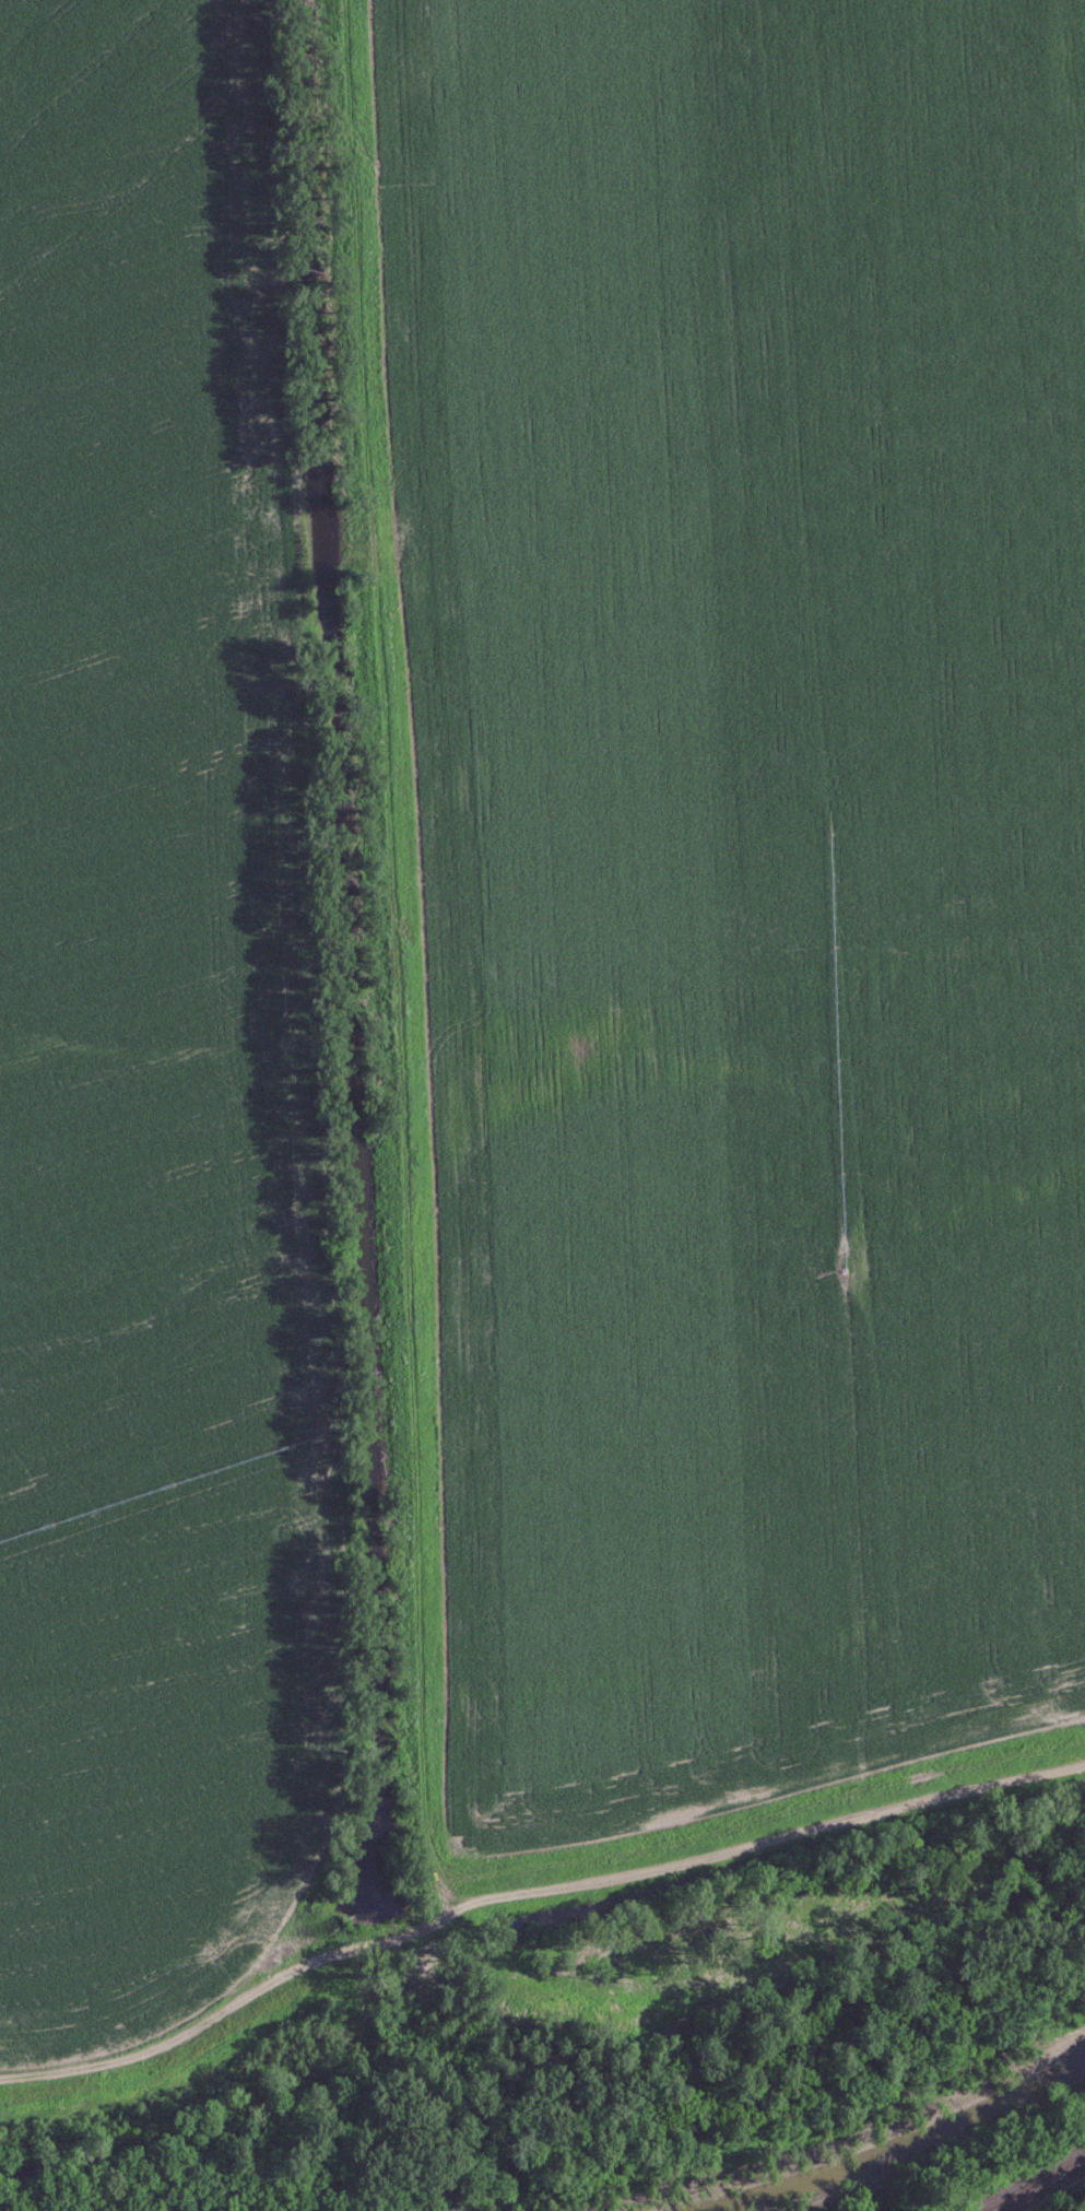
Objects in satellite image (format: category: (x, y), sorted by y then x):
railway: (1029, 2179)
railway: (1042, 2188)

